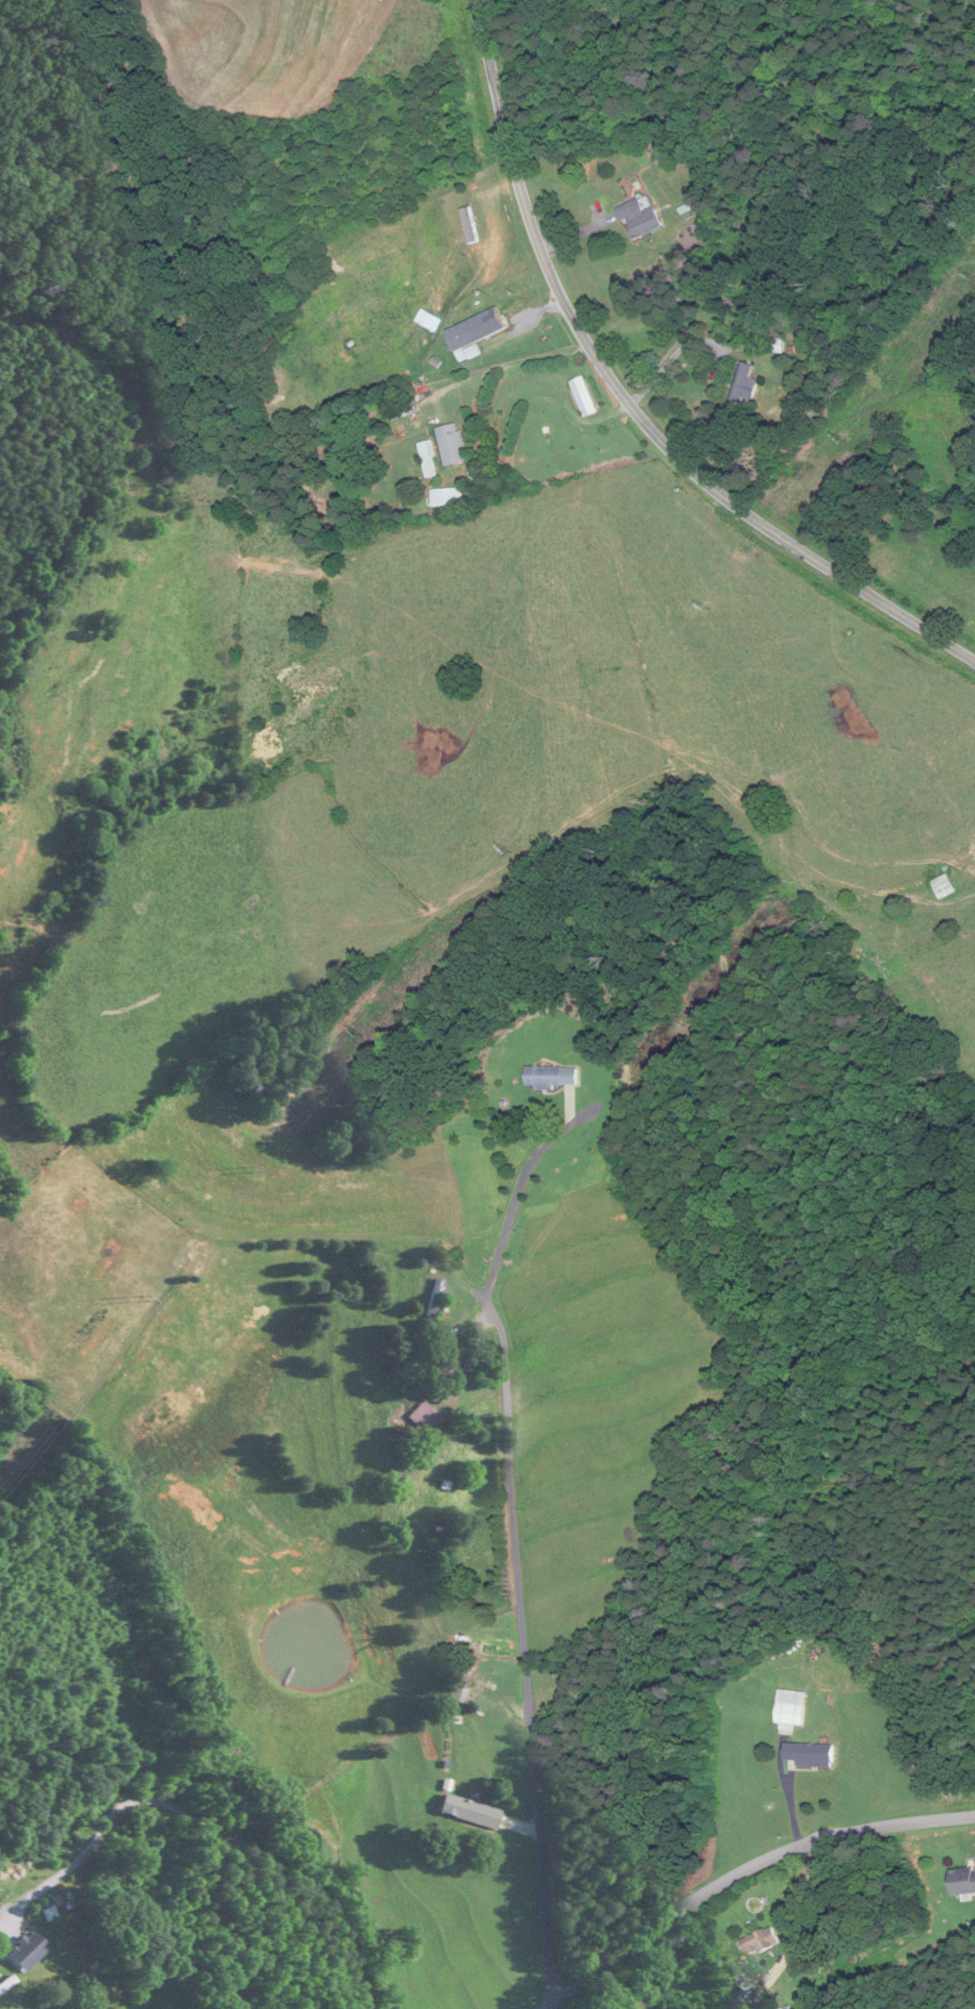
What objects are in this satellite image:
building: (640, 220)
building: (476, 331)
building: (776, 346)
road: (501, 368)
building: (747, 386)
building: (584, 397)
road: (630, 401)
building: (429, 457)
building: (448, 498)
building: (945, 887)
building: (553, 1077)
building: (435, 1298)
road: (520, 1543)
building: (791, 1715)
building: (810, 1757)
building: (469, 1811)
road: (201, 1827)
road: (752, 1870)
building: (964, 1882)
building: (761, 1942)
building: (6, 1983)
road: (555, 2004)
road: (759, 2006)

